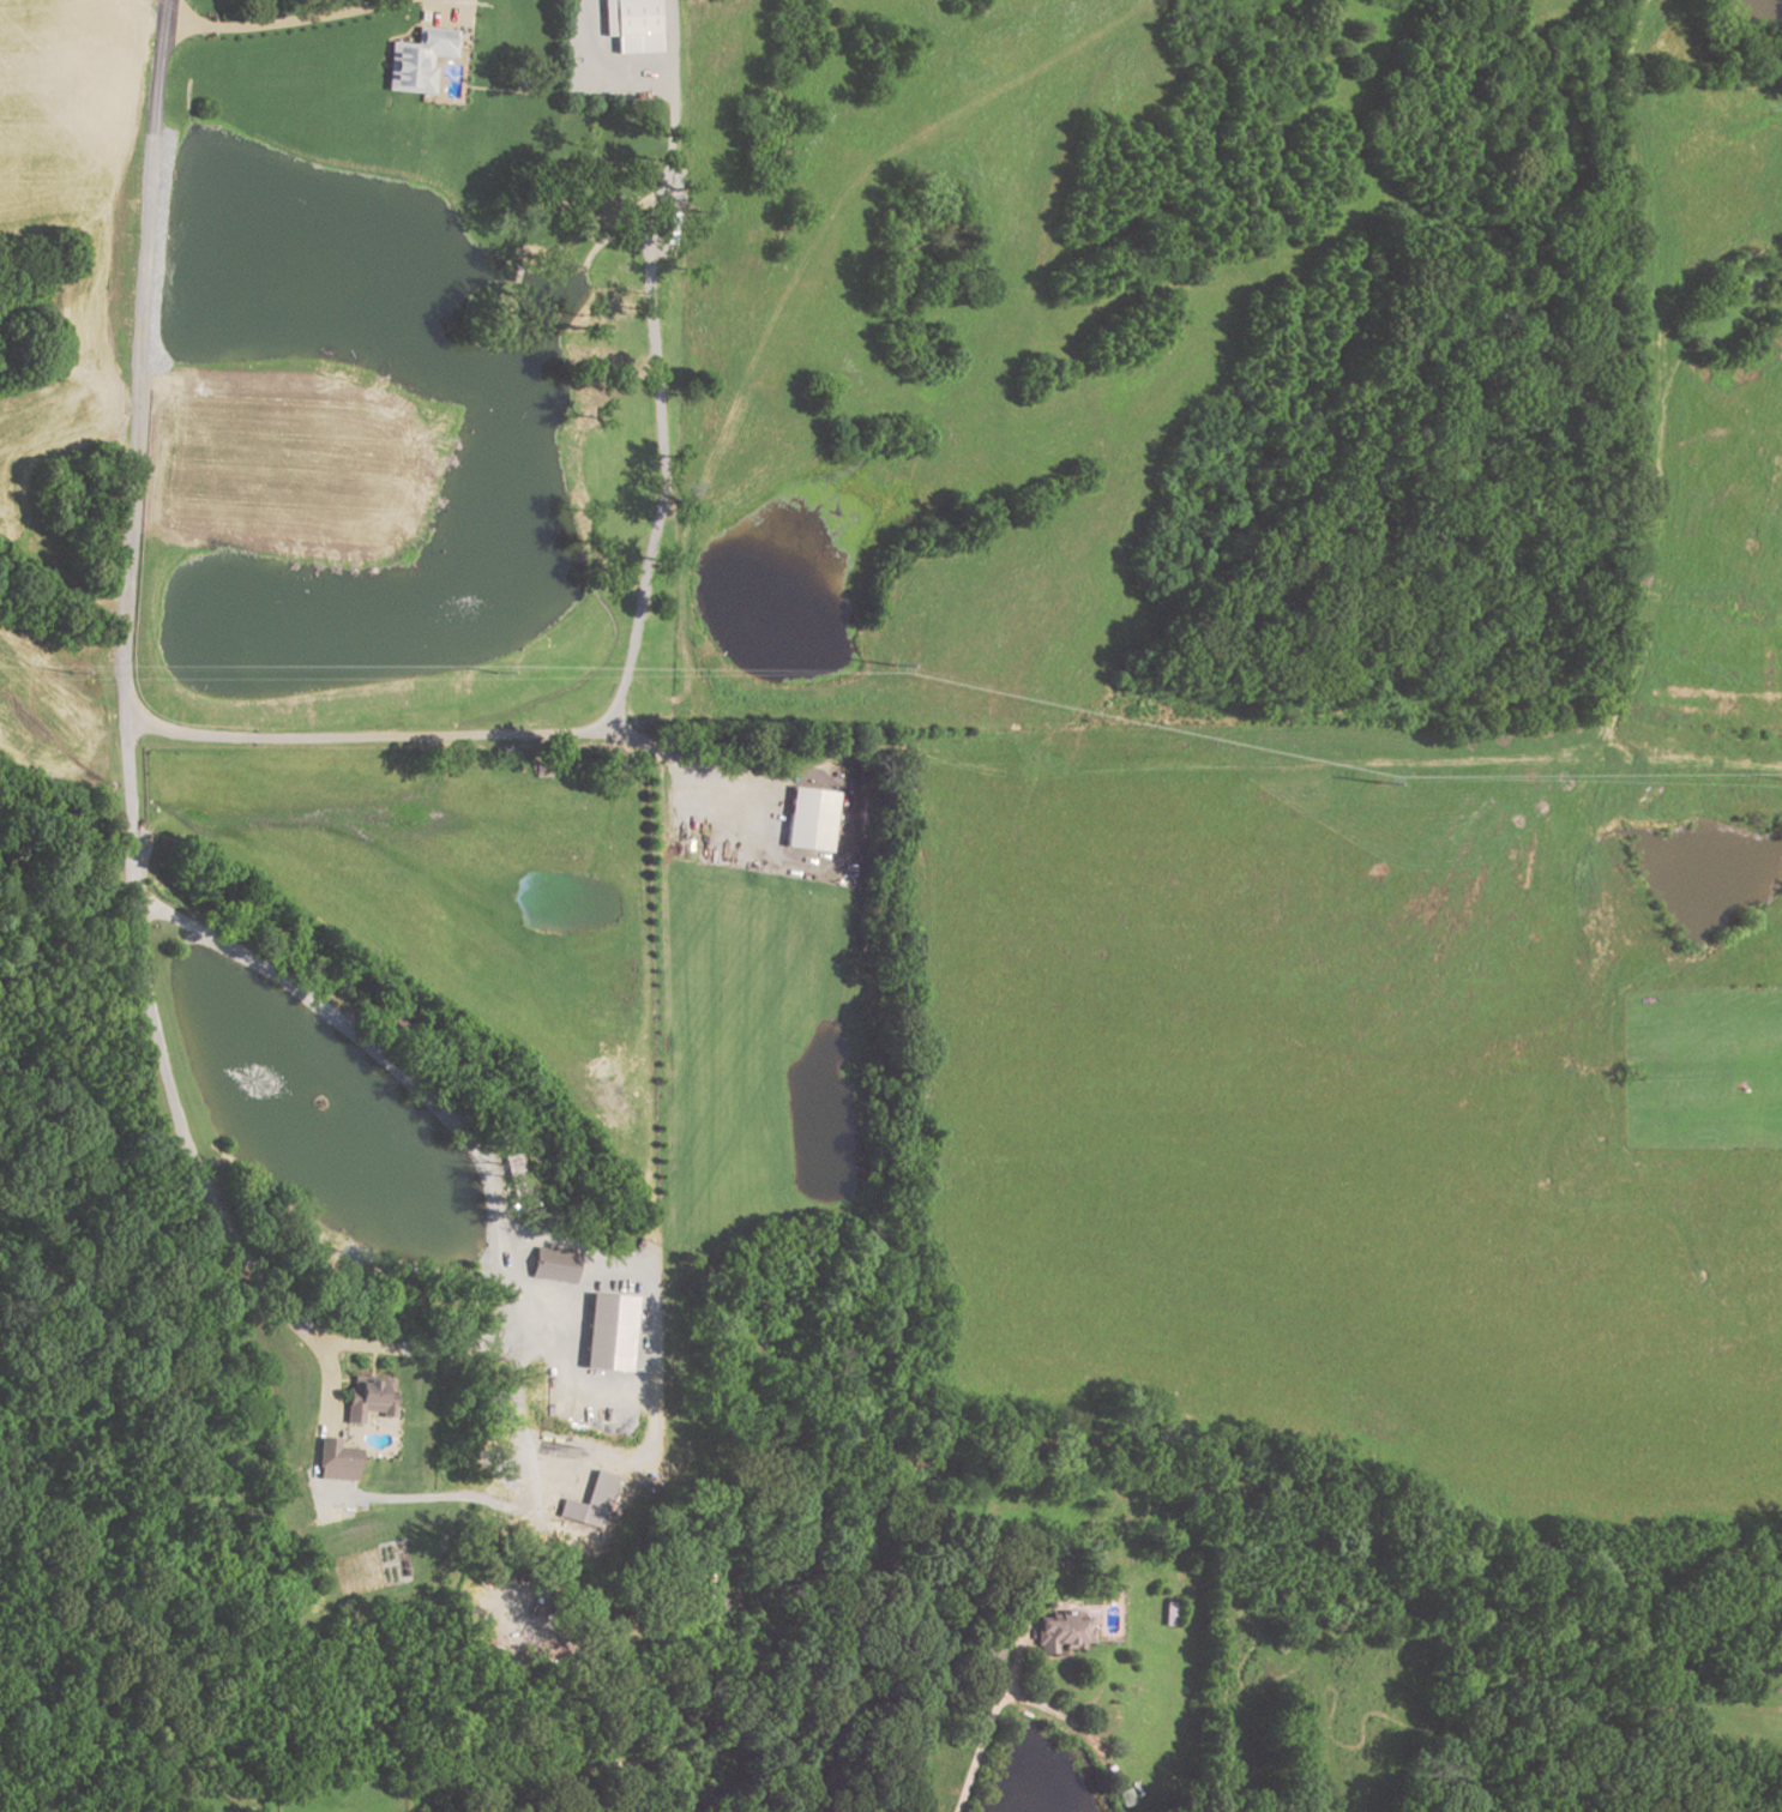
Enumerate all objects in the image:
road: (278, 24)
building: (632, 24)
road: (390, 37)
building: (417, 60)
road: (628, 76)
building: (519, 80)
road: (493, 90)
road: (631, 639)
road: (124, 732)
building: (808, 819)
road: (796, 865)
road: (355, 1027)
building: (554, 1264)
road: (655, 1264)
building: (609, 1330)
building: (368, 1397)
building: (336, 1459)
building: (590, 1501)
building: (1060, 1632)
building: (988, 1650)
road: (983, 1721)
building: (247, 1811)

